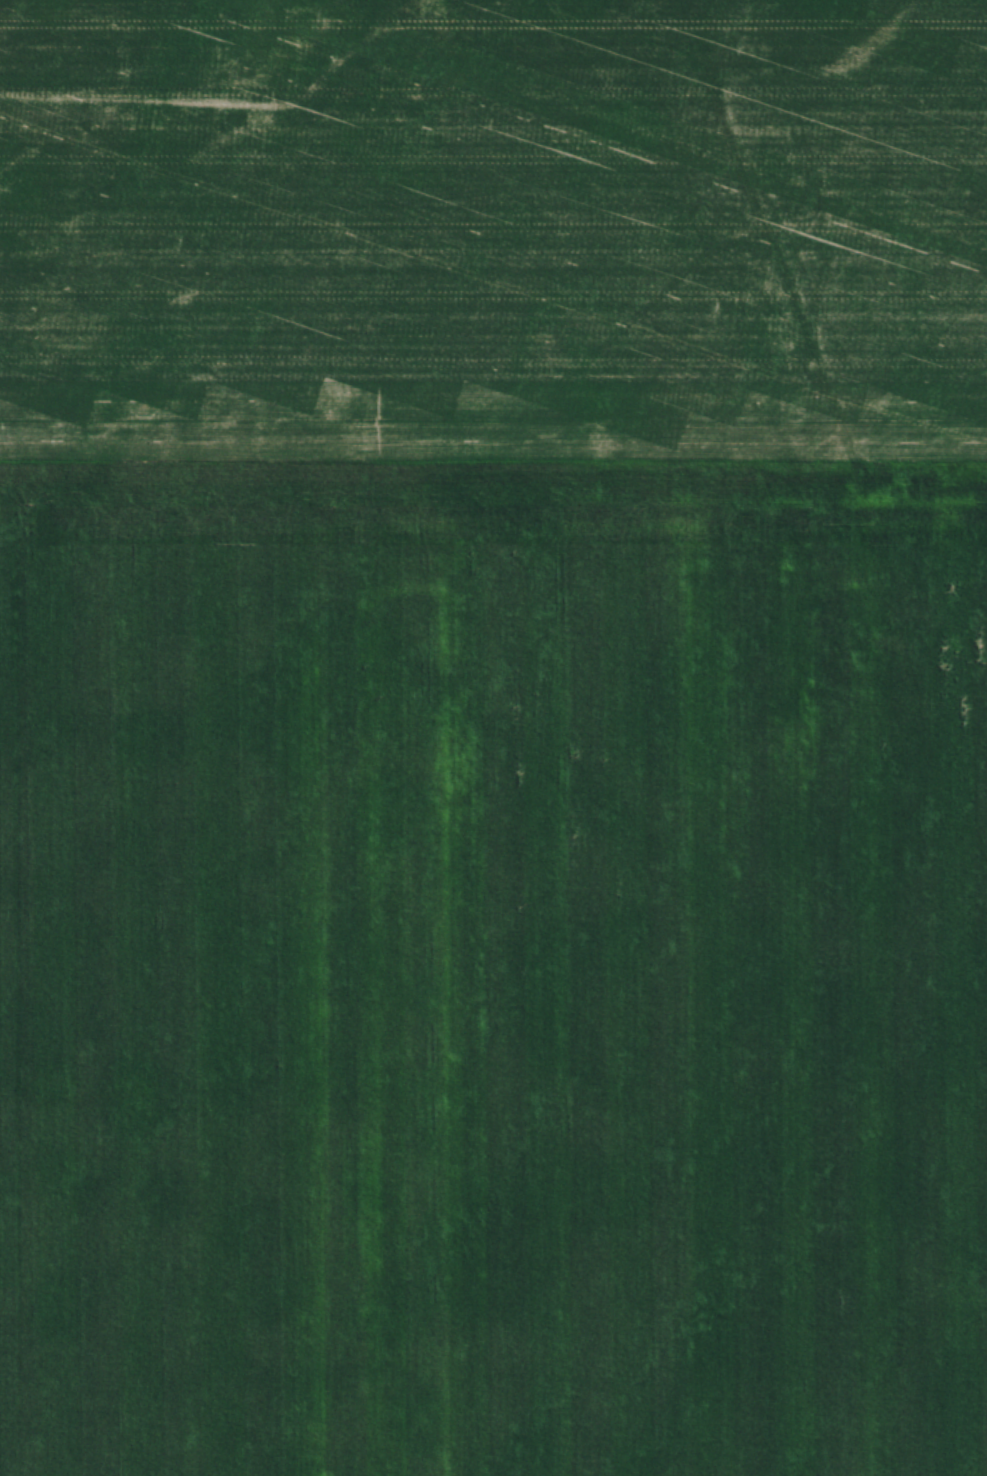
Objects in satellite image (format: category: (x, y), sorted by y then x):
building: (423, 11)
building: (351, 75)
building: (454, 80)
road: (212, 107)

